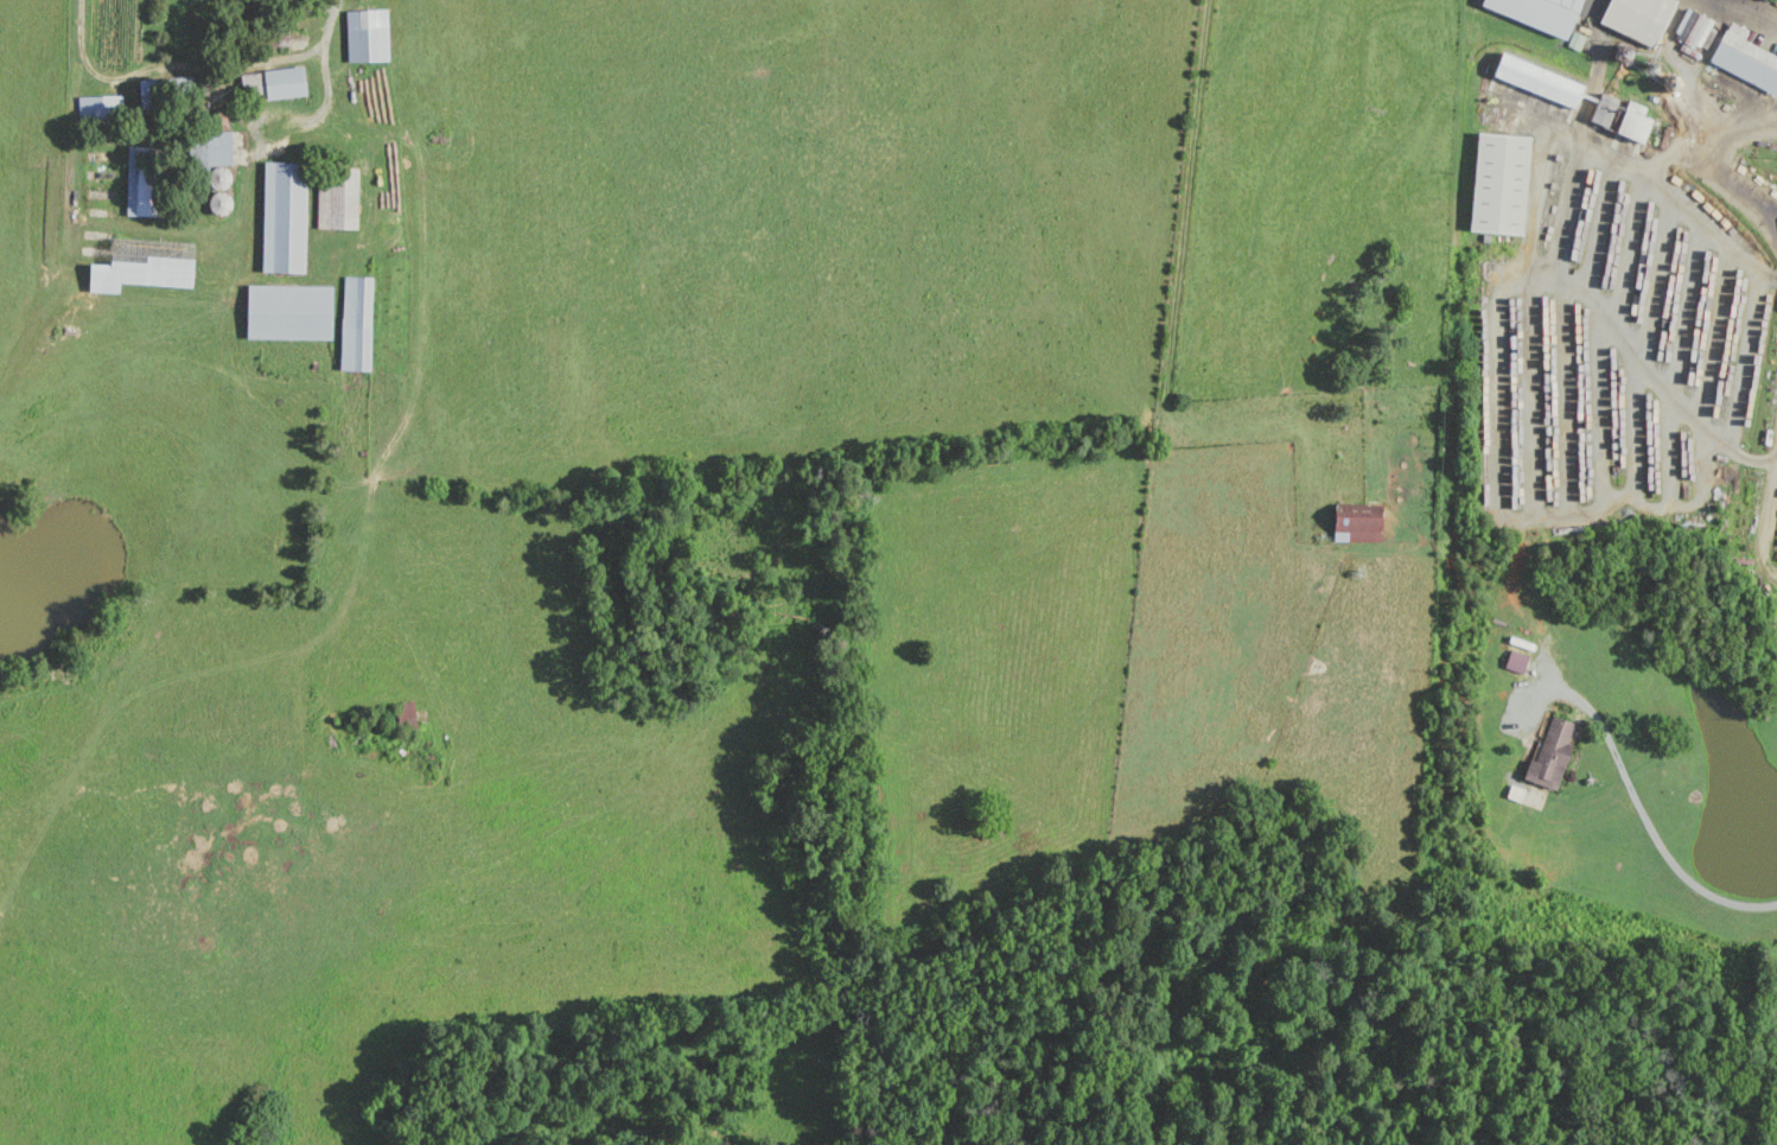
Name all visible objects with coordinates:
road: (312, 6)
building: (1536, 12)
road: (1745, 17)
building: (1635, 18)
building: (364, 34)
building: (1744, 58)
building: (1536, 79)
building: (272, 82)
road: (224, 100)
building: (98, 107)
building: (1618, 116)
building: (206, 147)
road: (1645, 167)
building: (138, 182)
building: (1497, 183)
building: (336, 198)
building: (282, 216)
road: (1713, 228)
building: (287, 311)
building: (354, 323)
road: (1625, 332)
road: (1737, 452)
road: (1527, 519)
building: (1355, 522)
road: (1768, 527)
building: (1515, 661)
building: (1549, 752)
road: (1643, 816)

